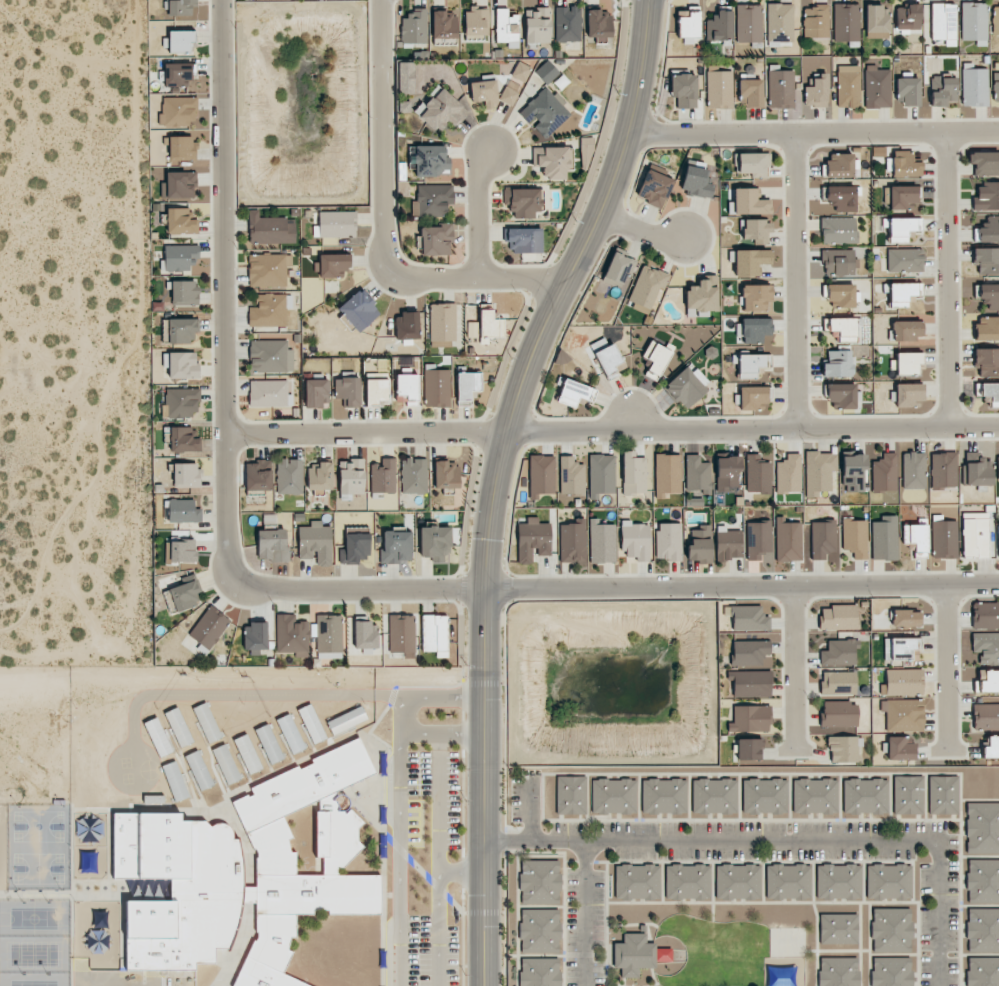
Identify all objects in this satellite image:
building: (181, 7)
building: (907, 17)
building: (995, 19)
building: (815, 21)
building: (942, 21)
building: (476, 22)
building: (845, 22)
building: (876, 22)
building: (974, 22)
building: (567, 23)
building: (598, 23)
building: (748, 23)
building: (779, 23)
building: (444, 25)
building: (537, 25)
building: (414, 26)
building: (506, 26)
building: (719, 26)
building: (688, 27)
building: (180, 41)
building: (520, 71)
building: (546, 72)
building: (176, 73)
building: (405, 78)
building: (974, 86)
building: (995, 86)
building: (877, 87)
building: (719, 89)
building: (780, 89)
building: (847, 89)
building: (683, 90)
building: (942, 90)
building: (816, 91)
building: (907, 91)
building: (484, 92)
building: (750, 93)
building: (508, 96)
building: (439, 109)
building: (177, 111)
building: (544, 112)
road: (812, 134)
building: (182, 148)
building: (430, 160)
building: (552, 161)
building: (752, 163)
building: (984, 163)
building: (840, 165)
building: (903, 165)
building: (696, 182)
building: (654, 188)
building: (841, 197)
building: (903, 197)
building: (986, 197)
building: (432, 200)
building: (523, 201)
building: (749, 201)
road: (477, 212)
building: (180, 221)
building: (335, 224)
road: (386, 228)
road: (639, 228)
building: (901, 228)
building: (270, 229)
building: (754, 230)
building: (838, 230)
building: (989, 230)
building: (436, 239)
building: (524, 240)
building: (179, 258)
building: (905, 260)
building: (986, 260)
building: (750, 261)
building: (838, 262)
building: (333, 265)
building: (618, 269)
building: (268, 270)
road: (796, 282)
road: (945, 282)
building: (647, 286)
building: (184, 292)
road: (226, 292)
building: (903, 294)
building: (988, 294)
building: (841, 295)
building: (702, 296)
building: (754, 297)
building: (270, 310)
building: (358, 310)
building: (442, 324)
building: (489, 325)
building: (407, 326)
building: (842, 328)
building: (987, 328)
building: (471, 329)
building: (754, 329)
building: (179, 330)
building: (906, 330)
building: (270, 356)
building: (656, 358)
building: (609, 361)
building: (987, 362)
building: (906, 363)
building: (751, 364)
building: (838, 364)
building: (182, 365)
building: (467, 386)
building: (686, 386)
building: (436, 388)
building: (407, 389)
building: (347, 391)
building: (573, 392)
building: (988, 392)
building: (269, 393)
building: (316, 393)
building: (908, 394)
building: (841, 395)
building: (751, 396)
building: (181, 402)
road: (613, 432)
building: (997, 467)
building: (913, 470)
building: (943, 470)
building: (818, 472)
building: (633, 473)
building: (727, 473)
building: (854, 473)
building: (885, 473)
building: (978, 473)
building: (185, 474)
building: (446, 474)
building: (757, 474)
building: (788, 474)
building: (319, 475)
building: (413, 475)
building: (541, 475)
building: (601, 475)
building: (667, 475)
building: (697, 475)
building: (258, 476)
building: (289, 476)
building: (571, 476)
building: (351, 477)
building: (382, 478)
road: (496, 480)
building: (183, 511)
building: (975, 534)
building: (855, 537)
building: (822, 538)
building: (884, 538)
building: (916, 538)
building: (532, 539)
building: (944, 539)
building: (635, 540)
building: (758, 540)
building: (788, 540)
building: (601, 541)
building: (668, 541)
building: (998, 541)
building: (572, 542)
building: (315, 543)
building: (435, 543)
building: (699, 543)
building: (728, 543)
building: (272, 545)
building: (396, 546)
building: (355, 547)
building: (180, 551)
road: (620, 586)
building: (184, 596)
building: (985, 615)
building: (838, 617)
building: (905, 618)
building: (748, 619)
building: (209, 627)
building: (401, 633)
building: (365, 634)
building: (434, 634)
building: (291, 635)
building: (328, 636)
building: (255, 637)
building: (986, 646)
building: (899, 648)
building: (749, 652)
building: (839, 653)
road: (947, 668)
road: (793, 669)
building: (987, 681)
building: (903, 682)
building: (749, 683)
building: (838, 683)
road: (424, 697)
building: (838, 714)
building: (902, 714)
building: (985, 715)
building: (750, 719)
building: (310, 724)
building: (176, 727)
building: (289, 733)
road: (439, 734)
building: (154, 737)
building: (267, 743)
building: (991, 747)
building: (900, 748)
building: (749, 749)
building: (843, 749)
building: (247, 754)
building: (226, 764)
building: (197, 771)
building: (173, 780)
building: (570, 796)
building: (908, 796)
building: (943, 796)
building: (612, 797)
building: (664, 797)
building: (714, 797)
building: (814, 797)
building: (865, 797)
building: (765, 798)
parking lot: (431, 799)
road: (438, 803)
park: (37, 826)
building: (88, 829)
building: (981, 829)
road: (782, 839)
park: (3, 847)
road: (398, 859)
building: (175, 864)
park: (37, 868)
road: (458, 873)
building: (981, 881)
building: (539, 882)
building: (636, 882)
building: (687, 882)
building: (737, 882)
building: (788, 882)
building: (838, 882)
building: (888, 882)
road: (582, 912)
park: (33, 918)
road: (437, 929)
building: (838, 929)
building: (891, 930)
building: (981, 930)
building: (539, 931)
parking lot: (429, 951)
park: (31, 954)
building: (632, 954)
building: (539, 972)
building: (837, 972)
building: (890, 972)
building: (981, 972)
park: (32, 983)

